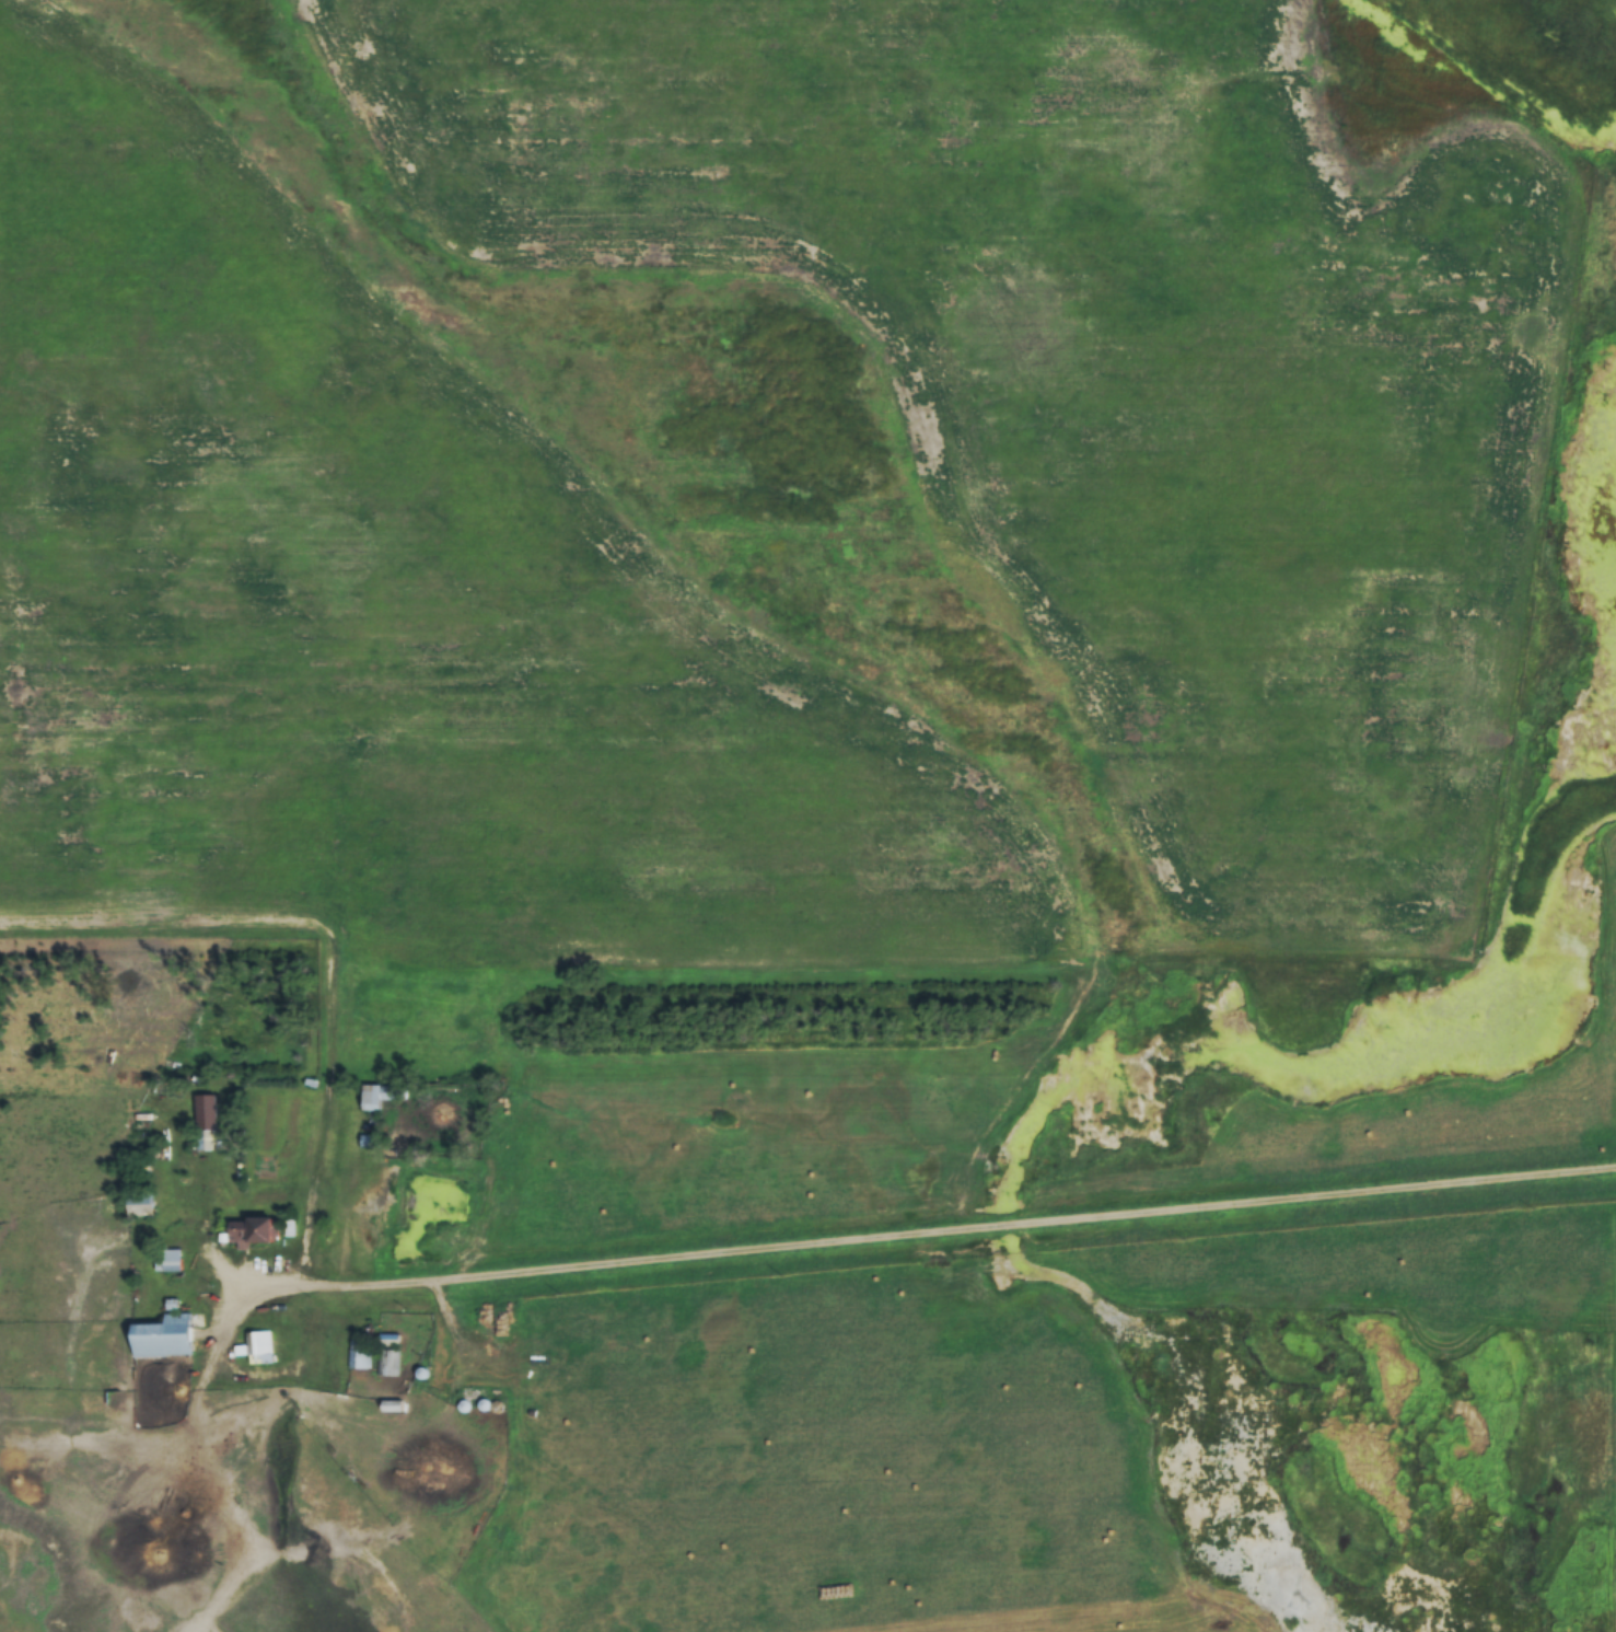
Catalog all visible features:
building: (374, 1096)
building: (204, 1139)
building: (137, 1165)
building: (137, 1200)
road: (996, 1207)
building: (248, 1230)
building: (170, 1260)
building: (536, 1334)
building: (160, 1336)
building: (259, 1346)
building: (387, 1354)
building: (359, 1357)

